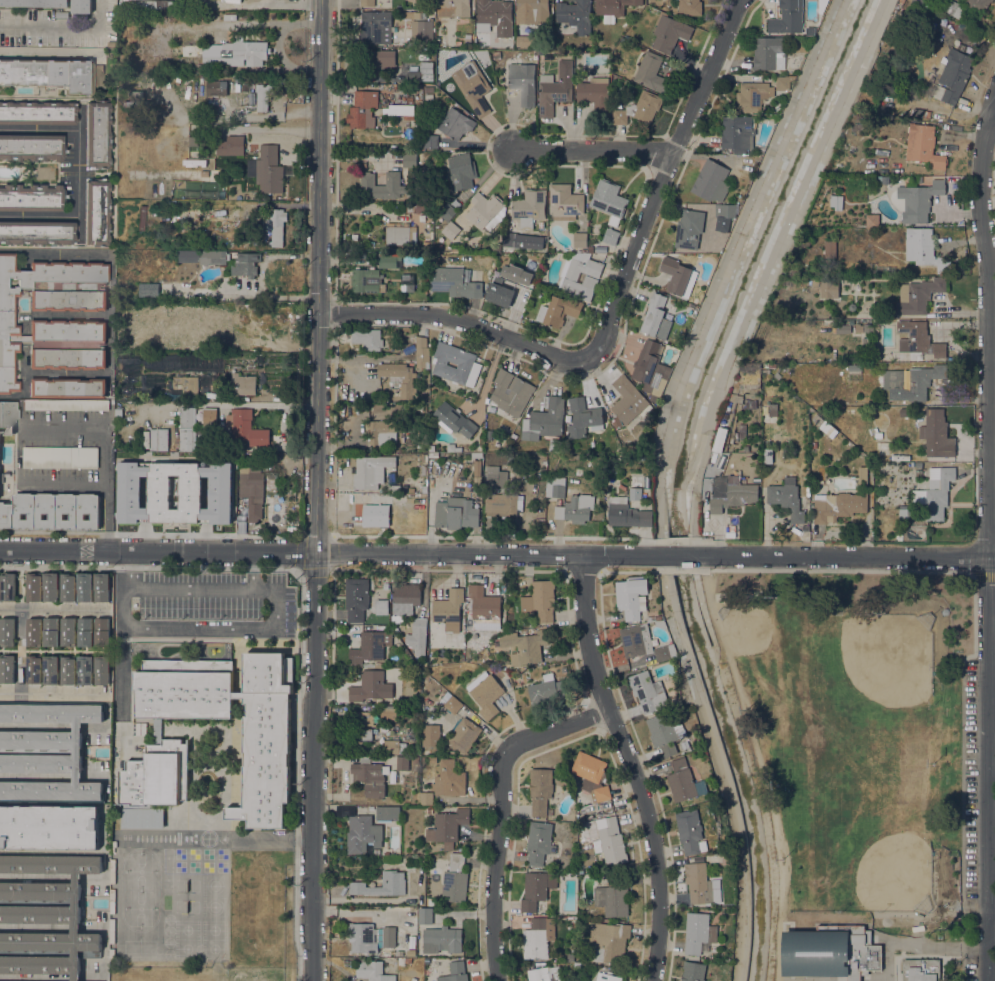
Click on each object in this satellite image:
road: (241, 0)
building: (876, 0)
road: (306, 1)
building: (421, 2)
building: (34, 3)
building: (366, 3)
building: (924, 3)
building: (978, 3)
building: (152, 5)
building: (81, 6)
building: (948, 7)
building: (453, 8)
building: (613, 8)
building: (689, 8)
building: (532, 10)
building: (60, 14)
building: (492, 14)
building: (575, 15)
building: (788, 18)
building: (375, 27)
road: (65, 28)
building: (421, 29)
building: (669, 33)
building: (468, 39)
building: (425, 50)
building: (224, 52)
building: (767, 52)
building: (496, 55)
building: (382, 59)
building: (421, 72)
building: (651, 73)
building: (52, 74)
building: (952, 77)
building: (523, 83)
building: (473, 87)
building: (216, 88)
building: (201, 89)
building: (428, 89)
building: (183, 94)
building: (551, 94)
building: (758, 94)
building: (244, 95)
building: (595, 95)
building: (263, 96)
building: (135, 99)
building: (194, 101)
building: (222, 101)
building: (200, 102)
building: (212, 102)
building: (639, 109)
building: (362, 110)
building: (402, 111)
building: (37, 113)
building: (926, 114)
building: (455, 124)
road: (39, 128)
road: (991, 128)
building: (736, 131)
building: (96, 134)
building: (851, 139)
building: (431, 141)
building: (230, 146)
building: (923, 146)
building: (31, 147)
road: (594, 151)
building: (409, 160)
building: (838, 167)
building: (268, 170)
building: (461, 171)
building: (214, 175)
building: (709, 179)
road: (662, 183)
building: (386, 185)
building: (893, 192)
building: (31, 198)
road: (78, 198)
building: (918, 200)
building: (564, 201)
building: (609, 201)
building: (836, 202)
building: (529, 205)
building: (419, 207)
building: (485, 211)
building: (728, 211)
building: (96, 212)
building: (447, 212)
building: (429, 216)
building: (275, 224)
road: (78, 229)
building: (425, 229)
building: (689, 229)
building: (451, 230)
building: (36, 232)
building: (400, 234)
building: (610, 236)
building: (509, 239)
building: (580, 240)
building: (426, 245)
building: (496, 248)
building: (590, 249)
building: (707, 249)
building: (830, 249)
building: (923, 249)
building: (600, 250)
building: (583, 251)
building: (220, 259)
building: (388, 260)
building: (488, 271)
building: (579, 276)
building: (678, 277)
building: (366, 281)
building: (406, 283)
building: (454, 283)
building: (815, 283)
building: (829, 289)
building: (148, 290)
road: (267, 293)
building: (202, 294)
building: (507, 294)
building: (918, 296)
building: (695, 301)
building: (558, 311)
building: (194, 313)
building: (242, 316)
road: (457, 318)
building: (655, 318)
building: (67, 323)
building: (864, 328)
building: (842, 329)
building: (367, 339)
building: (918, 340)
building: (865, 341)
building: (221, 347)
building: (231, 347)
building: (241, 347)
building: (422, 353)
building: (468, 364)
building: (649, 368)
building: (854, 368)
building: (399, 378)
building: (911, 382)
building: (242, 384)
building: (186, 386)
building: (67, 388)
building: (510, 395)
building: (159, 396)
building: (738, 399)
building: (628, 400)
building: (65, 405)
building: (849, 411)
building: (857, 411)
building: (772, 412)
building: (7, 416)
building: (209, 417)
building: (582, 418)
building: (544, 419)
building: (454, 420)
building: (818, 420)
building: (616, 422)
building: (186, 427)
building: (244, 428)
building: (828, 429)
building: (742, 431)
building: (381, 432)
building: (877, 433)
building: (936, 433)
building: (730, 438)
building: (155, 439)
building: (170, 439)
building: (497, 443)
road: (107, 448)
building: (452, 448)
building: (745, 448)
building: (882, 448)
building: (476, 455)
building: (486, 456)
building: (509, 456)
building: (768, 456)
building: (60, 457)
building: (619, 458)
building: (370, 471)
building: (861, 476)
building: (496, 478)
road: (66, 482)
building: (554, 487)
building: (635, 488)
building: (251, 489)
building: (394, 489)
building: (424, 489)
road: (317, 490)
building: (731, 493)
building: (935, 493)
building: (215, 494)
building: (786, 498)
building: (705, 501)
building: (504, 505)
building: (837, 506)
building: (575, 509)
building: (51, 511)
building: (617, 511)
building: (456, 514)
building: (646, 518)
building: (898, 536)
road: (986, 536)
road: (334, 553)
road: (679, 556)
road: (841, 557)
road: (255, 571)
road: (315, 571)
road: (584, 571)
road: (681, 571)
road: (984, 574)
building: (8, 587)
building: (33, 587)
building: (51, 587)
building: (67, 587)
building: (84, 587)
building: (101, 587)
road: (173, 587)
road: (566, 594)
building: (632, 597)
building: (356, 599)
building: (404, 600)
building: (540, 601)
road: (54, 606)
building: (381, 607)
building: (484, 609)
building: (448, 610)
building: (657, 621)
road: (991, 624)
road: (300, 626)
building: (419, 626)
building: (7, 632)
building: (33, 632)
building: (51, 632)
building: (68, 632)
building: (85, 632)
building: (102, 632)
building: (636, 640)
road: (974, 640)
park: (764, 643)
building: (526, 646)
building: (370, 647)
road: (19, 648)
building: (666, 652)
park: (877, 667)
building: (6, 669)
building: (33, 669)
building: (18, 670)
building: (51, 670)
building: (85, 670)
building: (102, 670)
building: (67, 671)
building: (370, 687)
road: (54, 690)
building: (547, 690)
building: (648, 692)
building: (485, 694)
building: (450, 703)
building: (362, 718)
building: (665, 733)
building: (360, 734)
building: (463, 735)
building: (267, 736)
building: (430, 736)
road: (636, 739)
building: (393, 747)
building: (77, 752)
building: (377, 759)
building: (424, 759)
building: (415, 760)
building: (402, 763)
park: (852, 763)
road: (723, 765)
road: (630, 766)
road: (991, 767)
building: (588, 770)
building: (156, 773)
building: (370, 777)
building: (448, 780)
building: (684, 781)
parking lot: (970, 783)
building: (540, 790)
building: (601, 793)
building: (425, 798)
road: (501, 810)
building: (429, 811)
building: (550, 812)
building: (387, 814)
building: (143, 818)
road: (764, 819)
building: (447, 827)
building: (47, 828)
building: (690, 832)
building: (362, 834)
road: (217, 839)
building: (609, 841)
building: (539, 843)
park: (867, 847)
building: (51, 852)
building: (376, 852)
building: (455, 880)
building: (393, 884)
building: (701, 885)
building: (533, 891)
building: (612, 897)
road: (992, 911)
building: (46, 916)
building: (425, 916)
building: (880, 920)
building: (699, 932)
building: (388, 937)
building: (363, 938)
building: (441, 940)
building: (536, 940)
building: (607, 941)
building: (830, 952)
building: (411, 953)
road: (916, 956)
building: (569, 957)
building: (403, 961)
road: (942, 966)
parking lot: (971, 968)
building: (372, 970)
building: (920, 970)
building: (693, 971)
building: (455, 972)
building: (864, 973)
building: (540, 974)
road: (951, 976)
road: (992, 976)
building: (607, 977)

